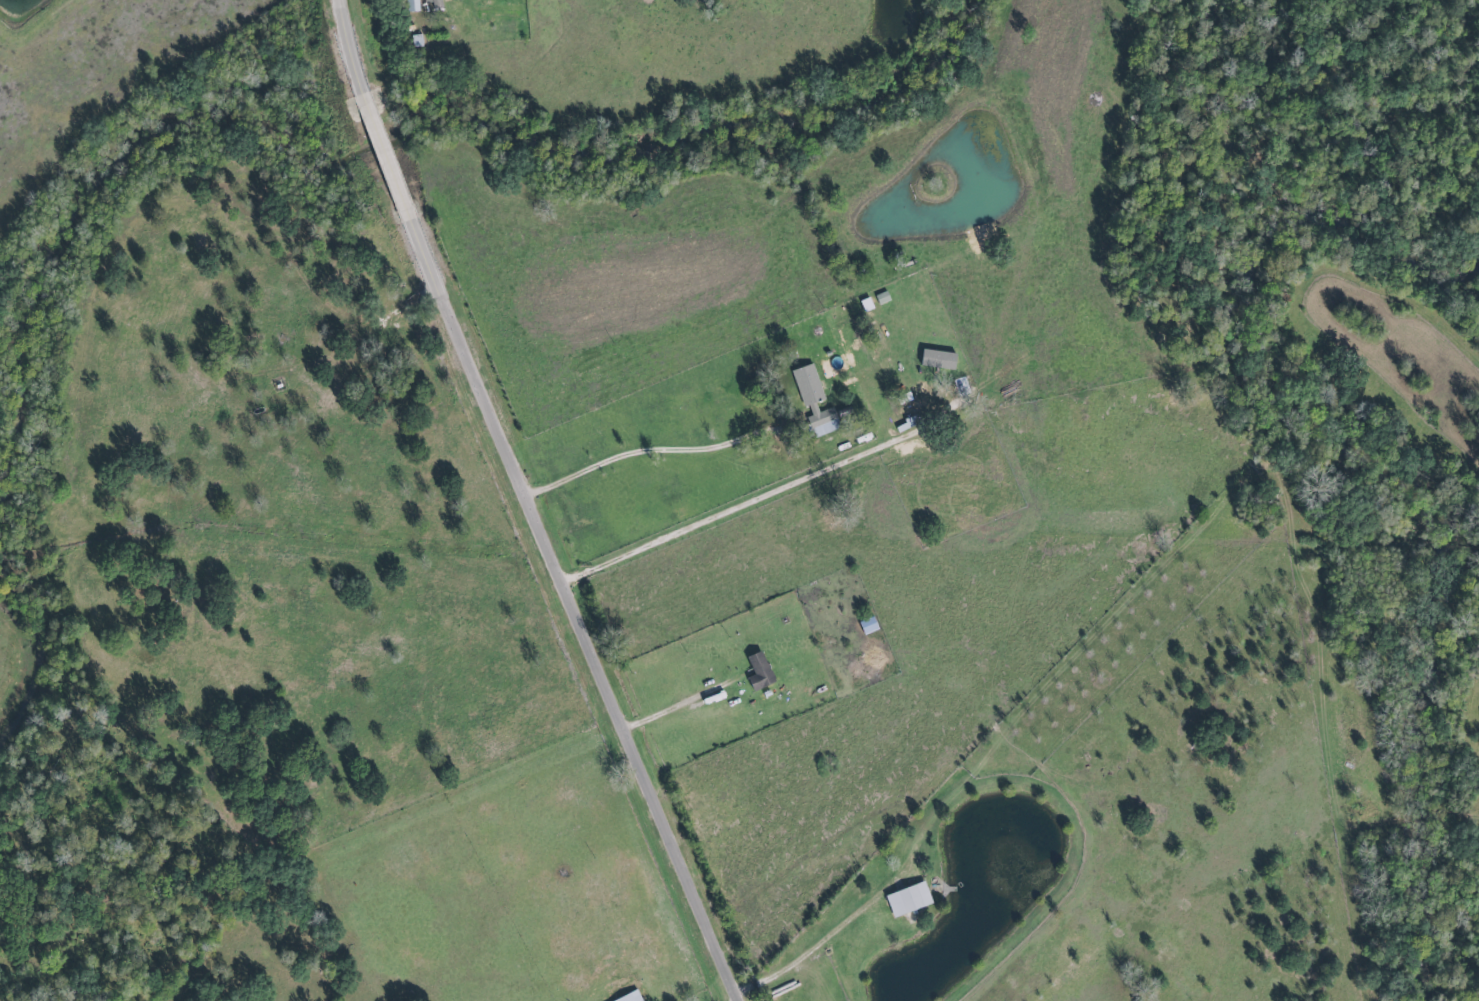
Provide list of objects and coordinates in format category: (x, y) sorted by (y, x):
building: (438, 4)
building: (413, 5)
road: (349, 48)
river: (381, 116)
road: (374, 121)
building: (940, 359)
building: (817, 401)
building: (910, 415)
road: (669, 456)
road: (728, 511)
road: (563, 574)
building: (870, 625)
river: (36, 644)
building: (761, 671)
building: (910, 898)

